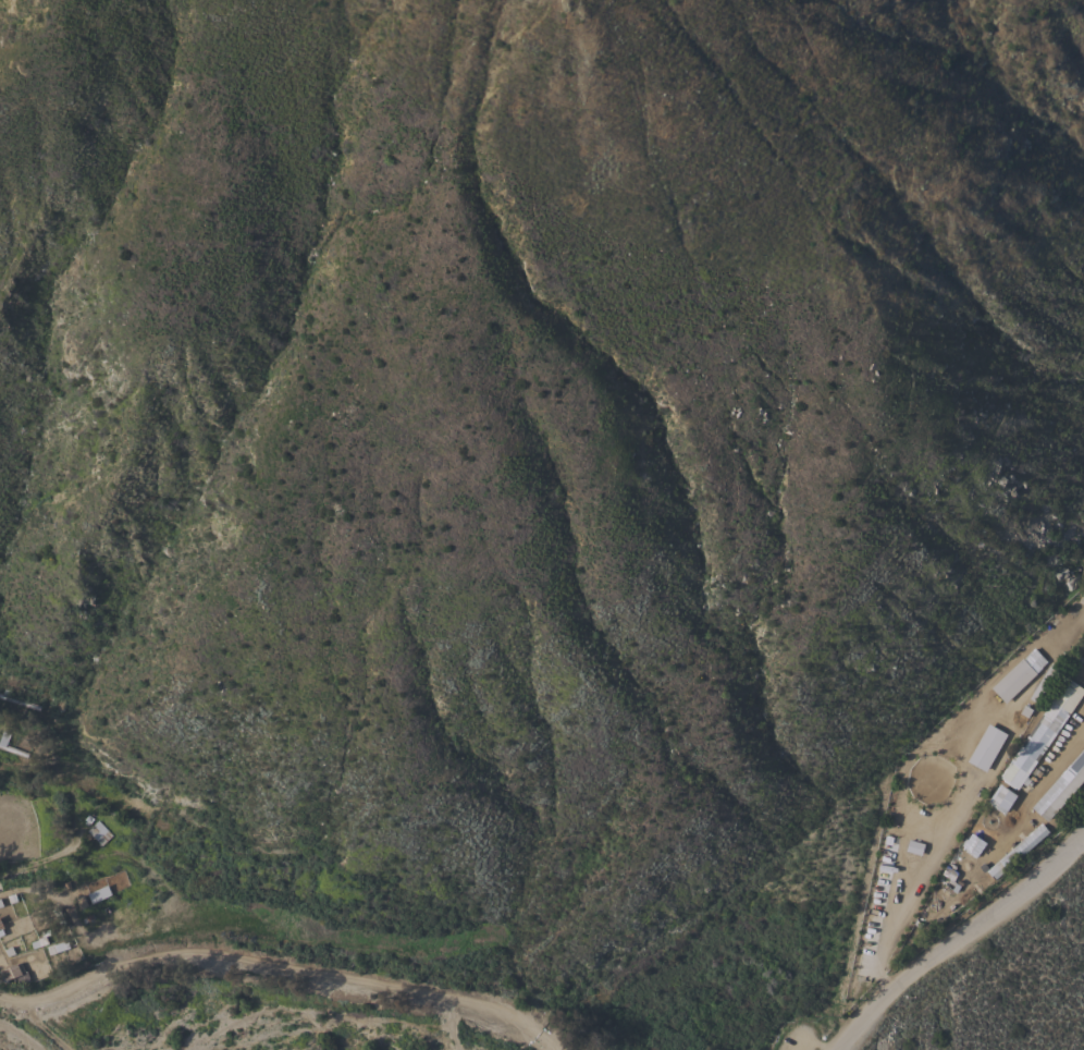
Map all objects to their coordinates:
building: (1020, 671)
building: (20, 700)
building: (1048, 722)
building: (3, 738)
building: (9, 765)
building: (1065, 795)
building: (99, 832)
road: (926, 850)
building: (1007, 857)
road: (39, 859)
building: (99, 892)
building: (936, 896)
road: (957, 935)
road: (271, 968)
building: (12, 970)
parking lot: (803, 1039)

